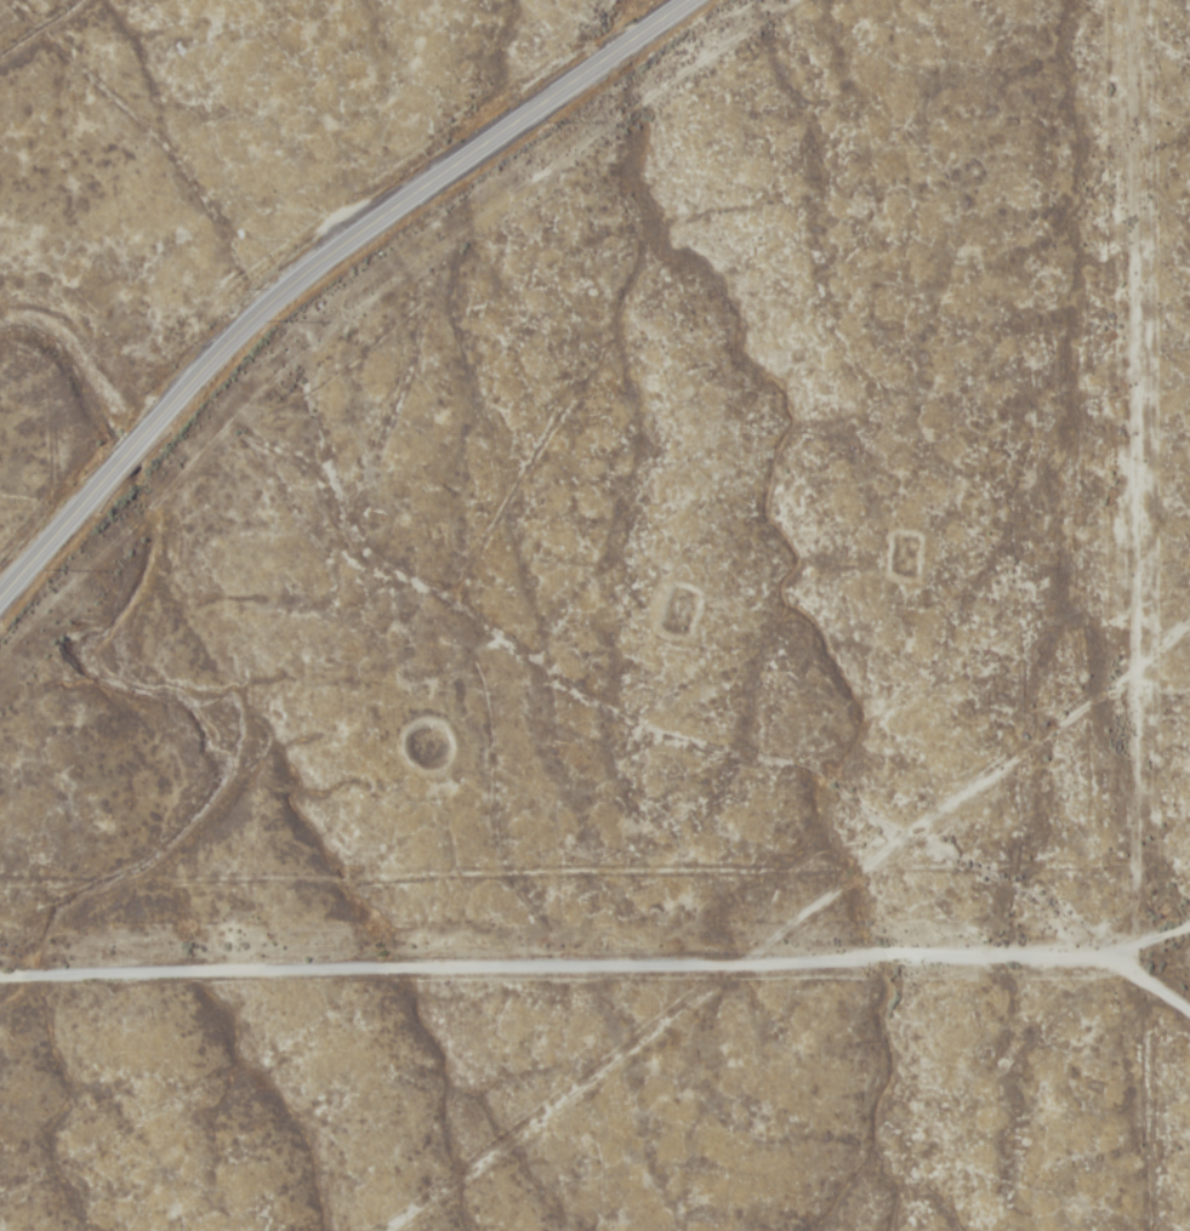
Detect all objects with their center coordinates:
road: (314, 264)
road: (1020, 760)
road: (650, 998)
road: (738, 998)

